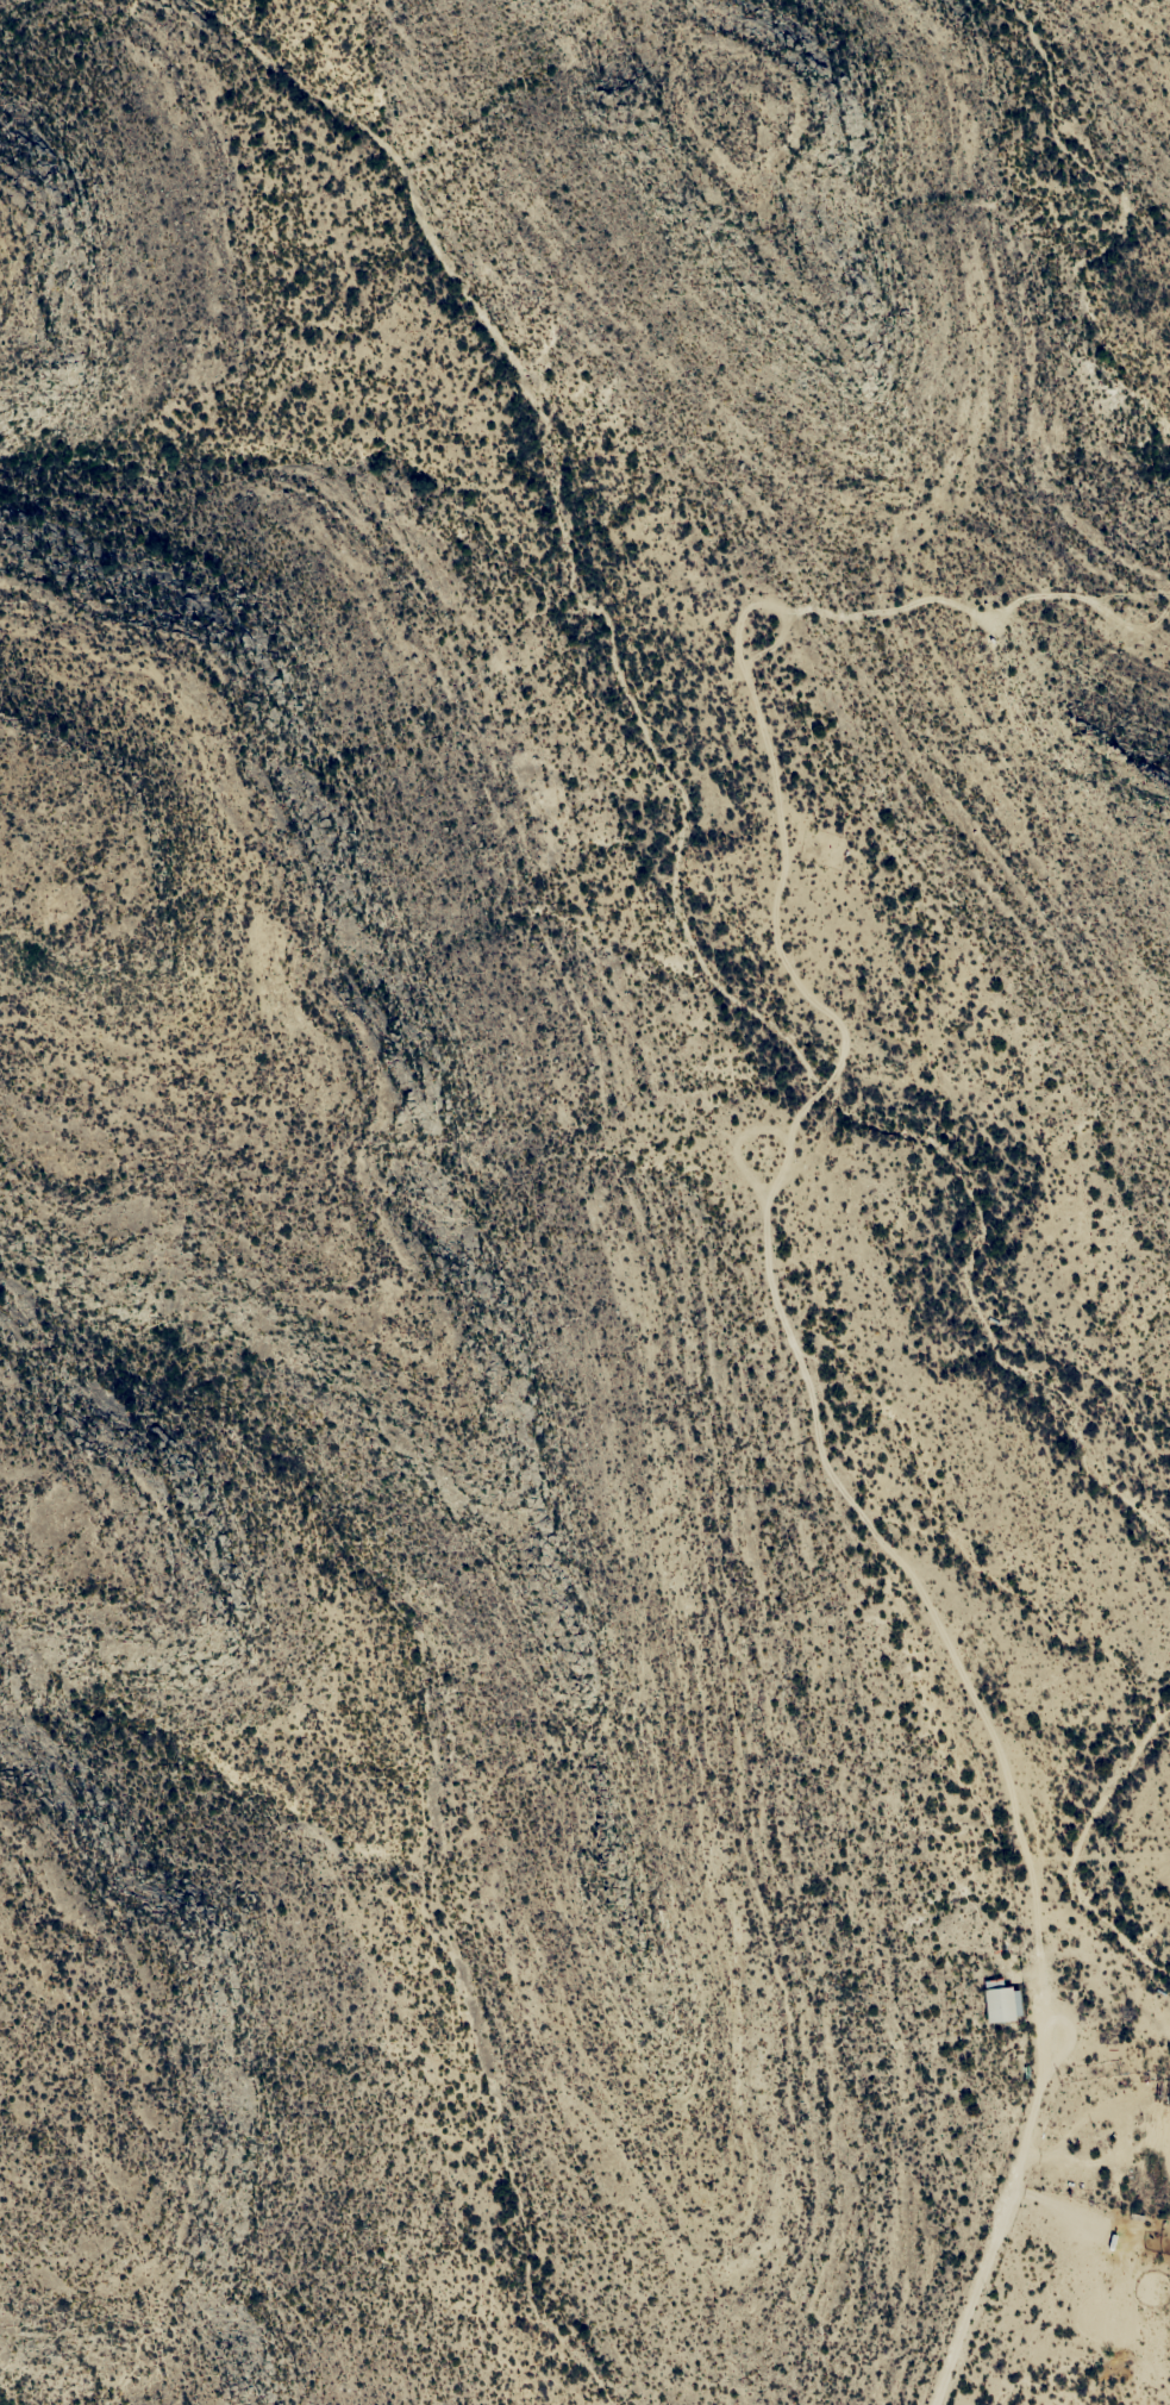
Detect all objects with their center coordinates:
building: (996, 2003)

